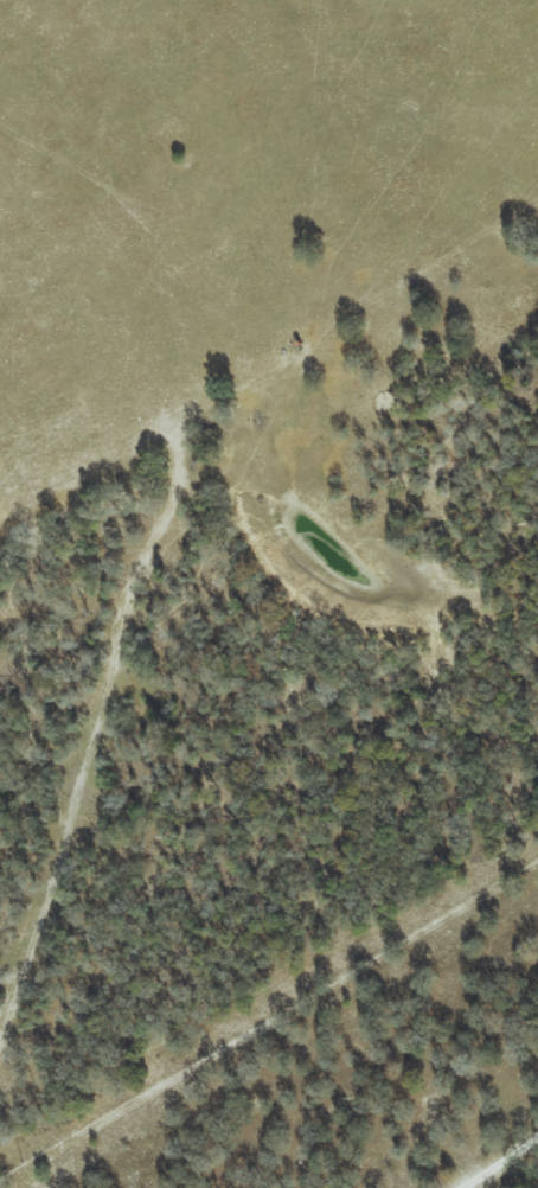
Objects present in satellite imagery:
road: (494, 1150)

